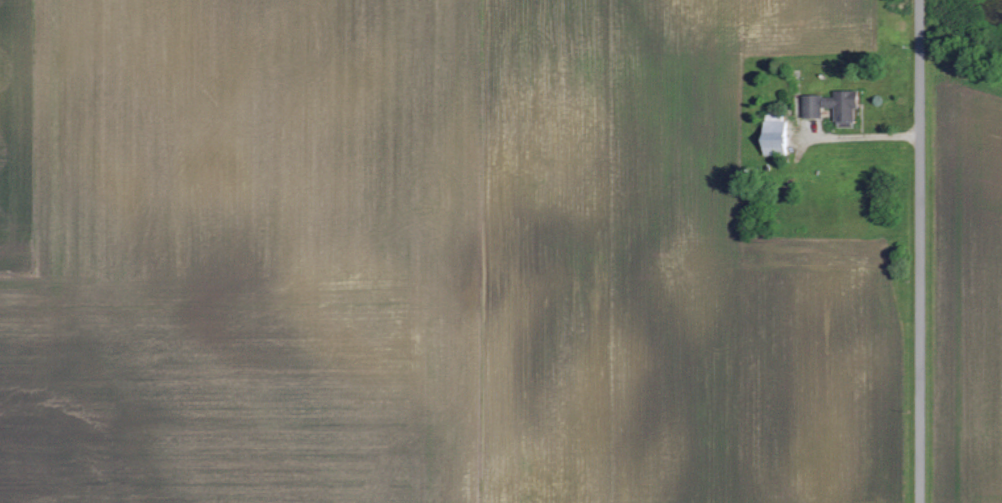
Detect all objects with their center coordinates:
building: (810, 106)
building: (772, 137)
road: (921, 251)

